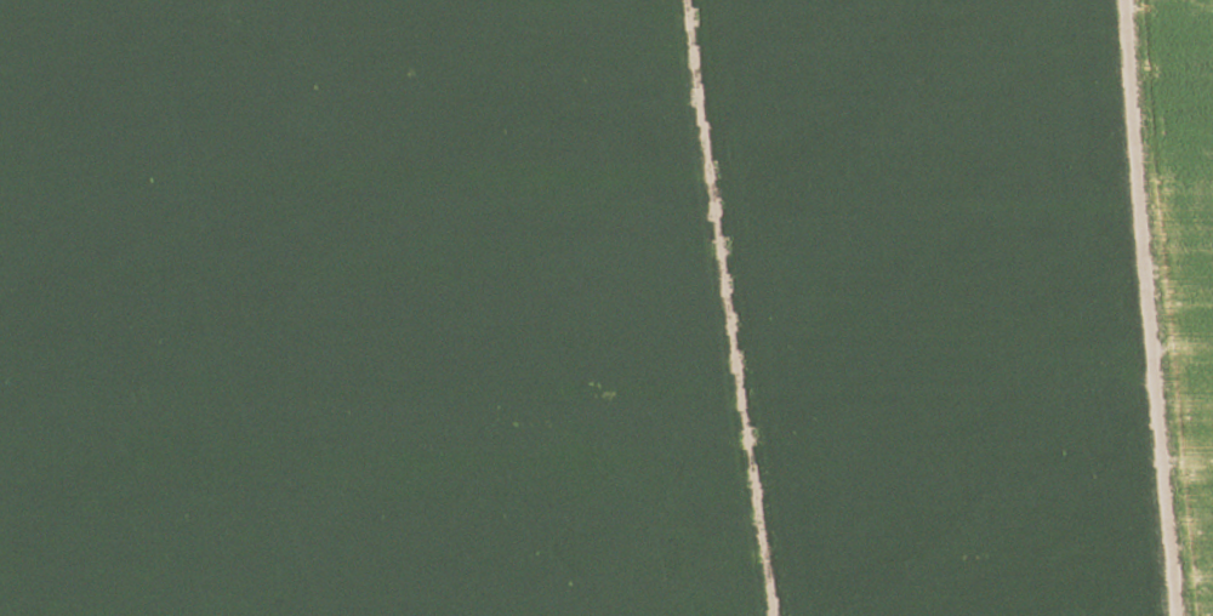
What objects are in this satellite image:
road: (736, 308)
road: (1143, 309)

